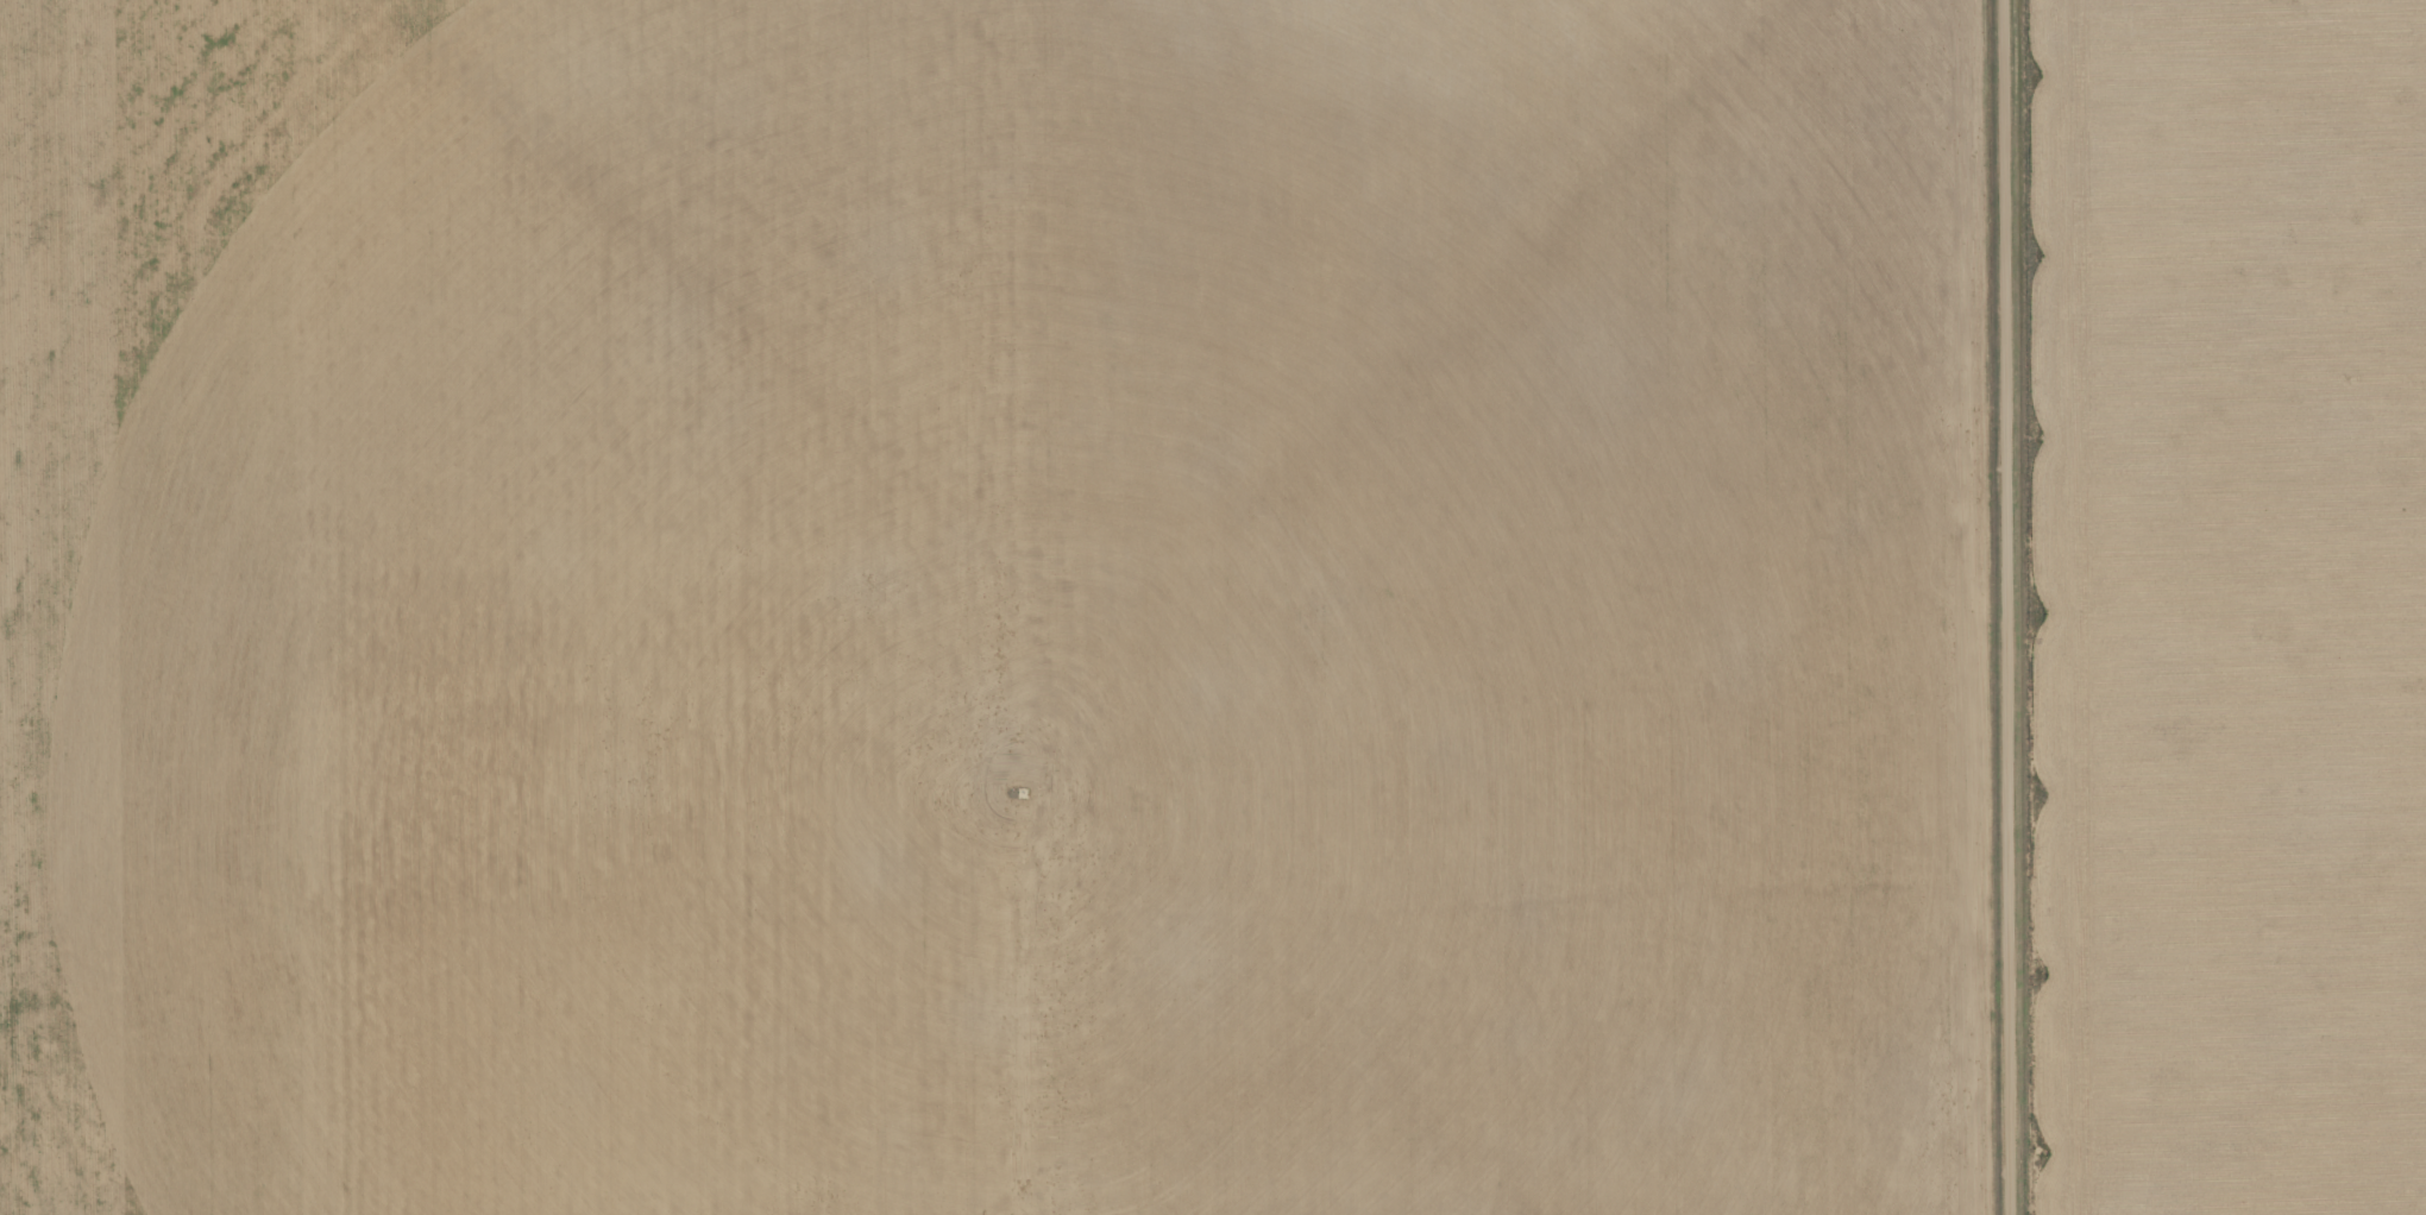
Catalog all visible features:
road: (2010, 606)

